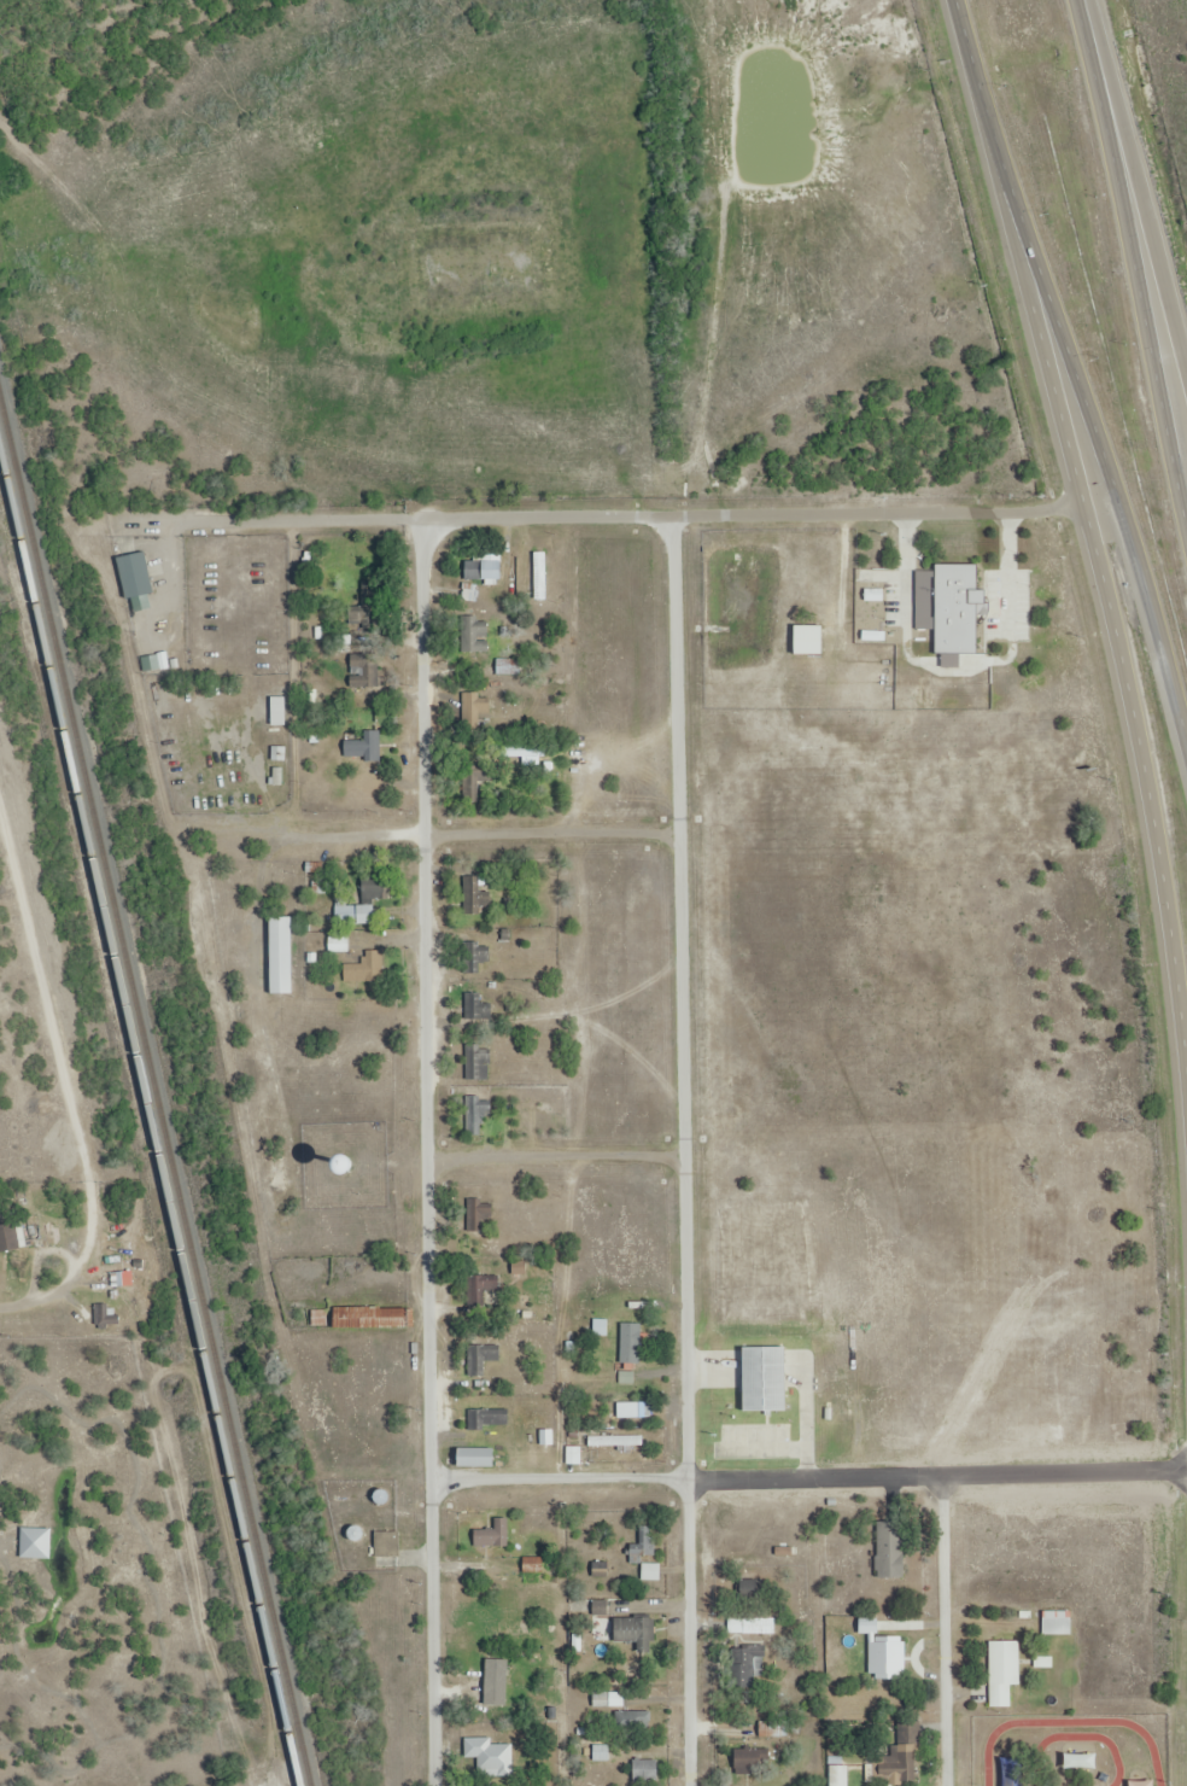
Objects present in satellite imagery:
road: (1089, 28)
road: (978, 101)
road: (1141, 217)
road: (1136, 281)
road: (1071, 383)
road: (754, 519)
road: (1181, 526)
building: (484, 570)
building: (136, 573)
road: (1113, 648)
road: (1164, 655)
building: (483, 706)
building: (279, 710)
building: (531, 753)
building: (475, 784)
building: (372, 895)
building: (478, 895)
building: (339, 942)
building: (478, 957)
building: (478, 1009)
building: (478, 1061)
railway: (154, 1079)
railway: (150, 1113)
building: (478, 1114)
road: (431, 1154)
road: (688, 1154)
building: (10, 1237)
building: (631, 1343)
building: (481, 1362)
building: (493, 1418)
building: (616, 1438)
building: (476, 1457)
road: (685, 1482)
building: (644, 1545)
building: (890, 1549)
building: (1057, 1622)
building: (759, 1624)
road: (953, 1630)
building: (748, 1664)
building: (1004, 1670)
building: (491, 1756)
building: (897, 1757)
building: (754, 1759)
building: (647, 1770)
building: (838, 1775)

